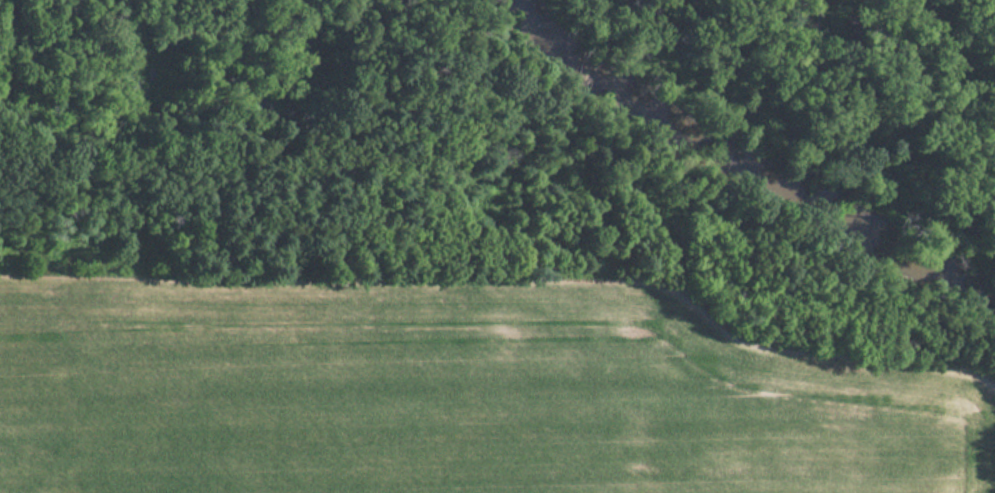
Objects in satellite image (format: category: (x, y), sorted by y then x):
river: (751, 161)

